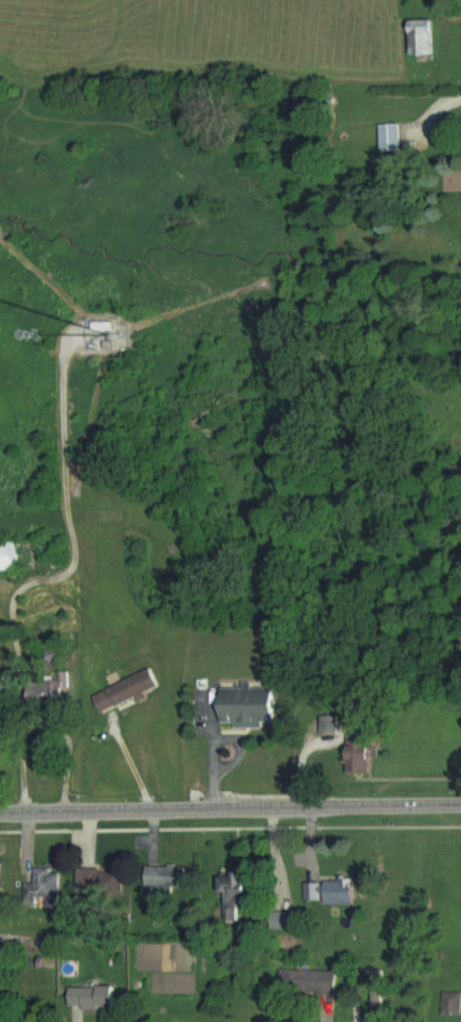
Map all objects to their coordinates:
building: (423, 35)
building: (392, 135)
building: (11, 554)
road: (41, 577)
building: (130, 688)
building: (246, 704)
road: (208, 751)
building: (365, 756)
road: (230, 808)
building: (0, 861)
building: (169, 876)
building: (102, 880)
building: (45, 885)
building: (315, 890)
building: (344, 890)
building: (236, 892)
building: (284, 918)
building: (309, 980)
building: (93, 995)
building: (451, 1001)

